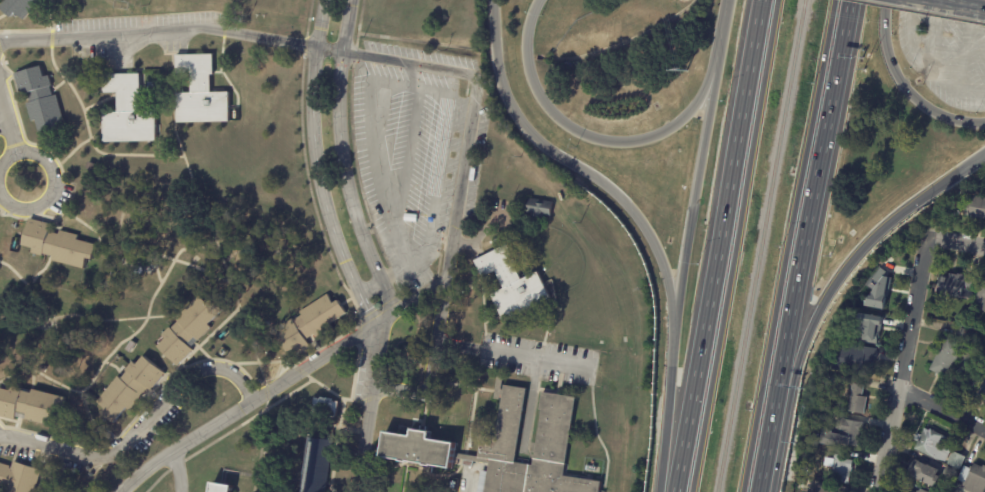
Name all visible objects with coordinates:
road: (964, 3)
building: (18, 7)
road: (721, 29)
road: (157, 33)
road: (327, 50)
road: (409, 65)
road: (415, 78)
building: (155, 85)
road: (902, 88)
building: (201, 93)
building: (41, 102)
building: (128, 112)
road: (7, 126)
road: (589, 137)
road: (444, 146)
road: (408, 149)
road: (975, 161)
road: (343, 164)
road: (570, 165)
road: (314, 170)
road: (50, 179)
road: (695, 190)
road: (385, 194)
building: (541, 208)
building: (976, 209)
road: (810, 212)
road: (956, 238)
building: (59, 245)
road: (786, 245)
road: (717, 246)
road: (734, 246)
railway: (759, 246)
road: (446, 266)
road: (839, 274)
building: (512, 283)
building: (954, 287)
road: (368, 288)
building: (879, 290)
building: (980, 295)
building: (984, 310)
building: (310, 325)
building: (869, 327)
building: (190, 330)
building: (133, 346)
building: (947, 353)
road: (529, 359)
building: (863, 359)
road: (902, 365)
building: (968, 371)
building: (825, 380)
road: (278, 383)
building: (130, 388)
building: (982, 393)
building: (857, 399)
building: (32, 405)
road: (667, 406)
road: (368, 407)
building: (324, 409)
road: (942, 409)
building: (814, 415)
road: (136, 426)
building: (841, 432)
building: (503, 447)
building: (939, 448)
building: (810, 449)
road: (766, 458)
building: (319, 461)
building: (841, 469)
building: (949, 471)
road: (175, 472)
building: (921, 472)
building: (19, 477)
building: (971, 480)
building: (223, 487)
road: (466, 487)
building: (824, 489)
building: (920, 490)
building: (911, 491)

